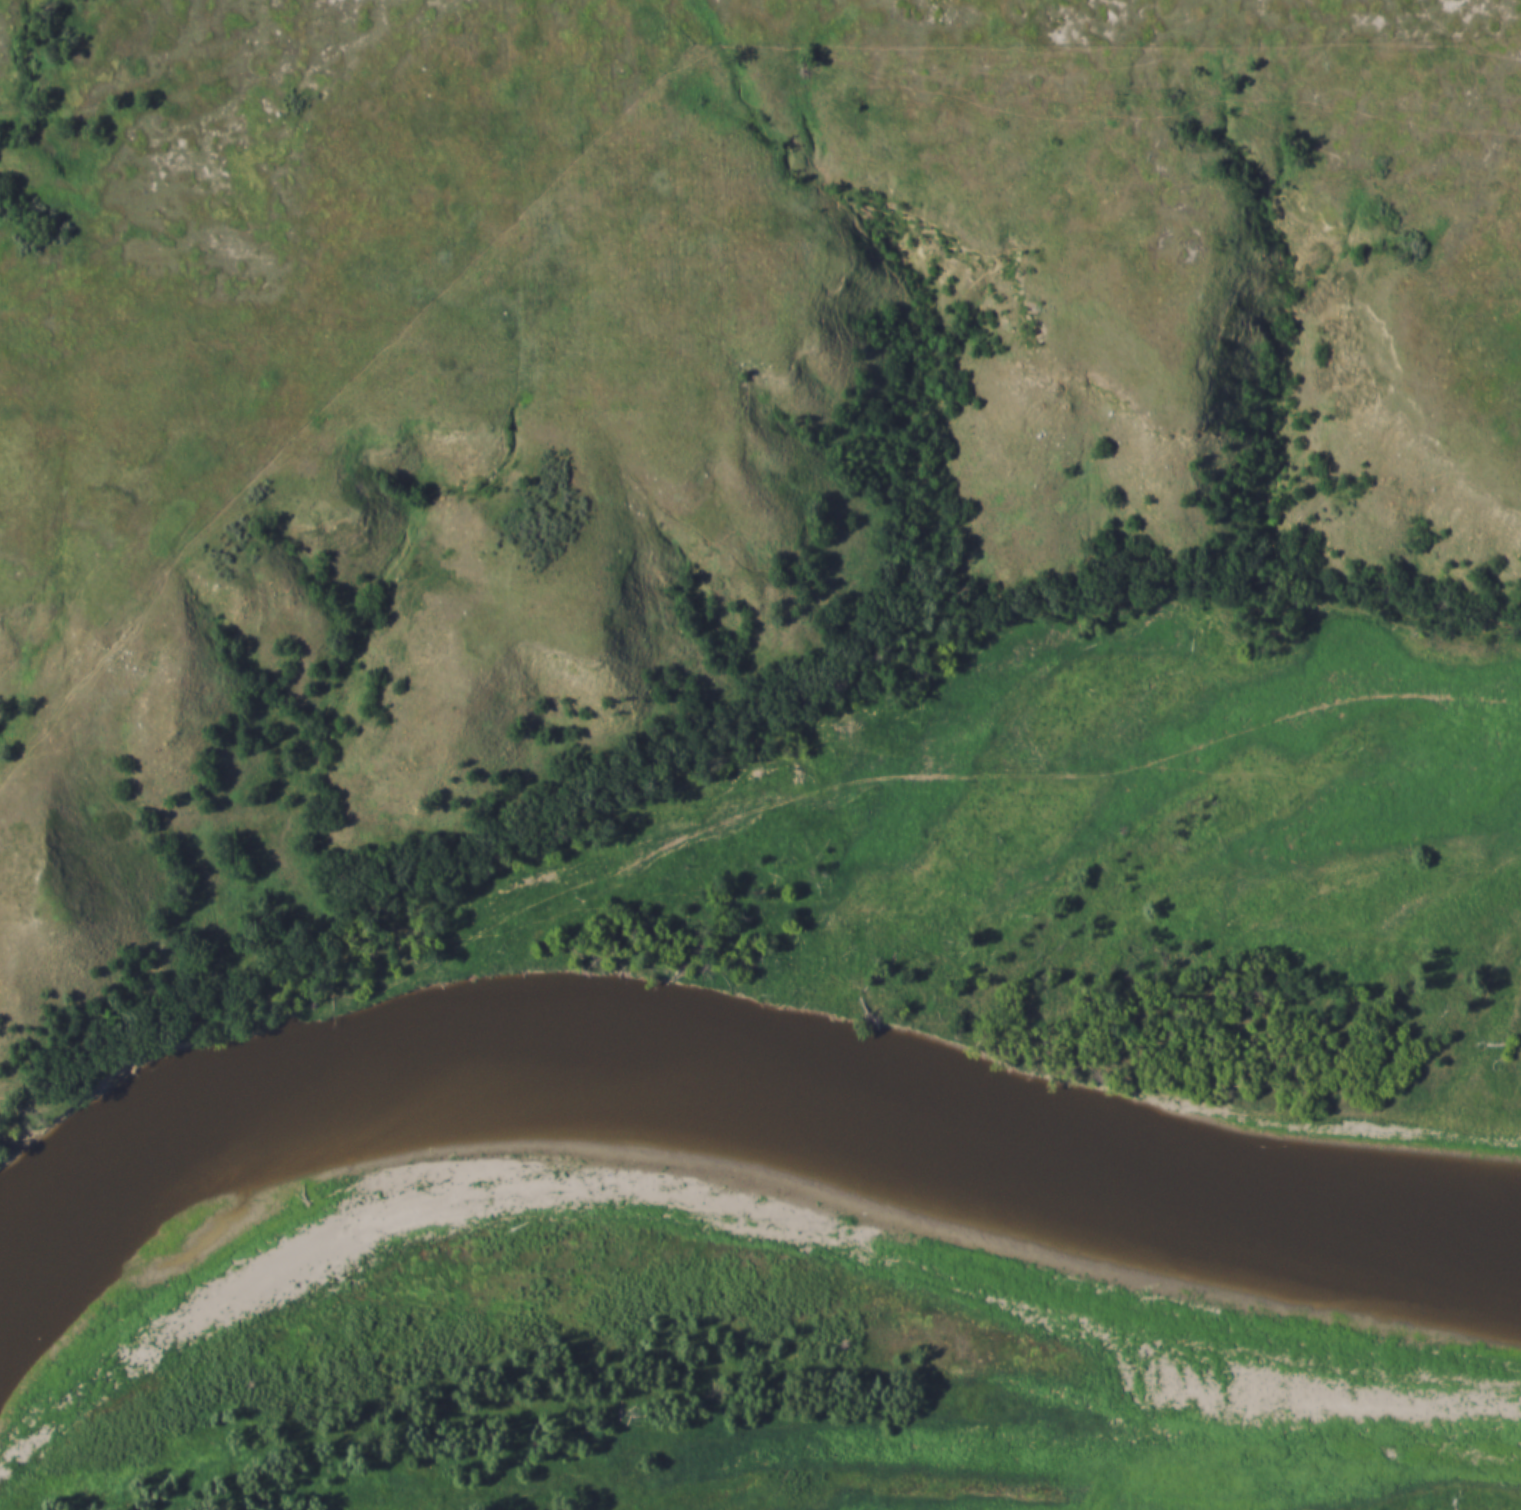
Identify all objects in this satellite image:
river: (737, 1109)

